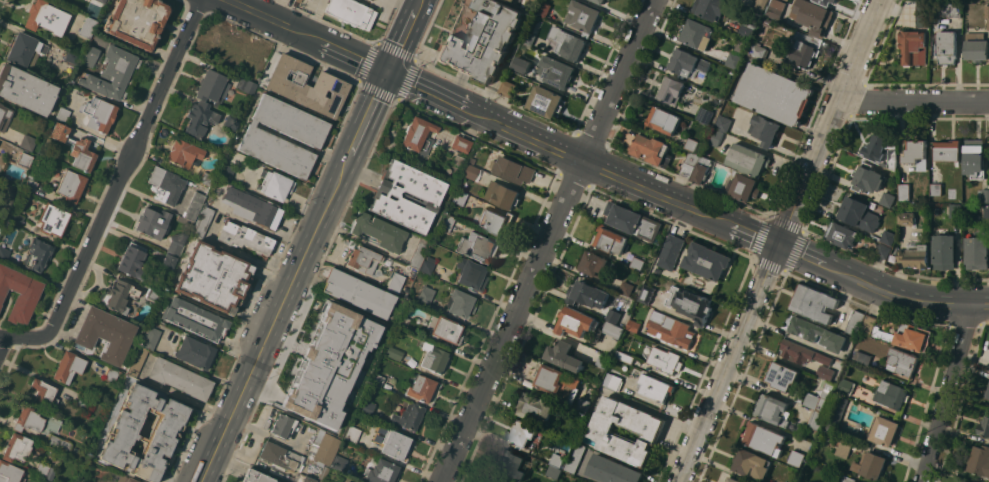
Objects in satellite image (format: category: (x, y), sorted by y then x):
building: (60, 0)
building: (311, 0)
building: (370, 0)
building: (371, 0)
building: (513, 0)
building: (101, 1)
road: (423, 1)
building: (599, 1)
building: (533, 2)
building: (825, 2)
building: (759, 5)
building: (543, 8)
building: (711, 8)
building: (772, 8)
building: (951, 8)
building: (351, 12)
building: (923, 13)
building: (987, 15)
building: (810, 16)
building: (46, 17)
building: (583, 17)
building: (137, 21)
building: (767, 22)
building: (88, 27)
building: (746, 30)
building: (697, 33)
road: (311, 38)
building: (529, 38)
road: (407, 39)
building: (484, 41)
building: (568, 43)
building: (740, 46)
building: (947, 46)
building: (976, 46)
building: (913, 47)
building: (24, 48)
building: (804, 49)
building: (757, 50)
building: (90, 55)
building: (72, 56)
building: (734, 60)
building: (688, 63)
building: (522, 64)
building: (556, 71)
building: (112, 73)
traffic signals: (391, 76)
building: (245, 84)
building: (307, 86)
building: (212, 87)
building: (508, 88)
building: (26, 89)
building: (672, 90)
building: (774, 94)
building: (547, 102)
road: (914, 102)
building: (99, 113)
building: (63, 114)
building: (705, 115)
building: (4, 116)
building: (199, 116)
road: (372, 118)
building: (664, 120)
building: (232, 122)
building: (723, 123)
building: (765, 129)
building: (418, 135)
building: (260, 136)
building: (715, 137)
building: (27, 142)
building: (461, 143)
building: (692, 144)
building: (75, 146)
building: (879, 147)
building: (652, 149)
building: (948, 150)
building: (184, 153)
building: (917, 153)
building: (892, 158)
building: (974, 158)
building: (25, 159)
building: (748, 159)
building: (471, 160)
building: (690, 164)
building: (513, 169)
building: (701, 169)
building: (224, 171)
building: (472, 172)
building: (734, 172)
road: (121, 175)
building: (206, 176)
building: (867, 178)
building: (166, 183)
building: (31, 185)
building: (71, 185)
building: (276, 185)
building: (744, 187)
building: (936, 189)
building: (904, 191)
building: (8, 194)
building: (503, 194)
building: (984, 194)
building: (407, 196)
building: (459, 197)
building: (887, 199)
building: (195, 206)
road: (685, 206)
building: (252, 207)
building: (954, 210)
building: (986, 210)
building: (859, 214)
building: (16, 218)
building: (906, 218)
building: (53, 219)
building: (183, 219)
building: (203, 221)
building: (496, 221)
building: (632, 221)
building: (0, 222)
building: (153, 222)
building: (446, 223)
building: (379, 231)
building: (841, 234)
building: (889, 234)
building: (246, 238)
road: (546, 240)
building: (611, 240)
road: (780, 240)
building: (176, 244)
building: (478, 247)
building: (883, 250)
building: (978, 250)
building: (944, 251)
building: (418, 252)
building: (670, 252)
building: (3, 254)
building: (38, 254)
building: (914, 255)
building: (363, 259)
building: (133, 261)
building: (169, 261)
building: (707, 261)
building: (636, 263)
building: (428, 264)
building: (594, 264)
building: (471, 274)
building: (214, 277)
building: (395, 281)
building: (626, 288)
building: (19, 292)
building: (358, 293)
building: (645, 293)
building: (153, 294)
building: (586, 294)
building: (118, 295)
building: (426, 296)
building: (460, 303)
building: (814, 303)
building: (691, 304)
building: (614, 314)
building: (339, 315)
building: (195, 319)
road: (278, 320)
building: (576, 321)
building: (403, 322)
building: (855, 322)
building: (633, 325)
building: (868, 325)
building: (444, 329)
building: (614, 329)
building: (671, 329)
building: (817, 333)
building: (106, 334)
building: (151, 337)
building: (914, 337)
road: (1, 340)
road: (15, 340)
building: (327, 343)
building: (377, 343)
building: (195, 352)
building: (393, 352)
building: (802, 353)
building: (564, 356)
building: (624, 356)
building: (863, 356)
building: (433, 358)
building: (665, 360)
building: (137, 361)
building: (603, 361)
building: (902, 362)
building: (626, 364)
building: (68, 367)
building: (311, 370)
building: (826, 372)
building: (364, 373)
building: (112, 374)
building: (782, 376)
building: (180, 378)
building: (377, 379)
building: (555, 379)
building: (868, 379)
building: (612, 381)
building: (846, 386)
building: (421, 388)
road: (946, 391)
building: (44, 392)
building: (655, 392)
building: (987, 392)
road: (185, 396)
building: (342, 396)
building: (892, 396)
building: (81, 397)
building: (820, 398)
building: (301, 399)
building: (583, 404)
building: (367, 407)
building: (536, 408)
building: (773, 410)
building: (835, 411)
building: (408, 415)
building: (346, 419)
building: (324, 420)
building: (816, 420)
building: (35, 421)
building: (282, 425)
building: (984, 426)
building: (645, 427)
building: (354, 428)
building: (884, 430)
building: (124, 433)
building: (523, 433)
building: (817, 437)
building: (764, 438)
building: (58, 442)
building: (395, 444)
building: (843, 446)
building: (17, 447)
building: (327, 449)
building: (279, 455)
building: (574, 457)
building: (796, 458)
building: (557, 460)
building: (980, 460)
building: (339, 463)
building: (751, 463)
building: (510, 465)
building: (870, 465)
building: (45, 470)
building: (612, 470)
building: (383, 471)
building: (10, 472)
building: (554, 472)
building: (322, 473)
building: (257, 476)
building: (126, 479)
building: (500, 479)
building: (847, 479)
building: (733, 480)
building: (724, 481)
building: (965, 481)

